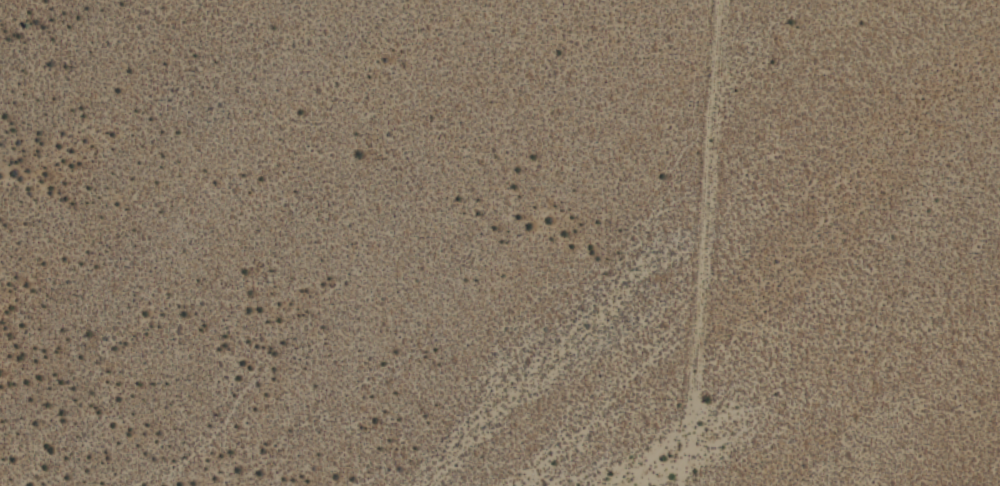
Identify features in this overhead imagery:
road: (712, 199)

